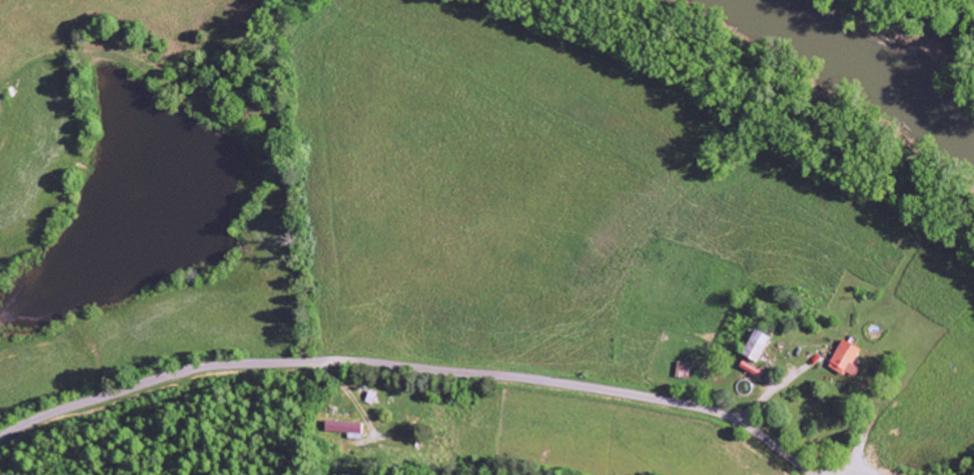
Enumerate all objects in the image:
river: (868, 58)
building: (756, 346)
building: (845, 359)
road: (418, 368)
building: (750, 369)
building: (681, 371)
building: (344, 429)

